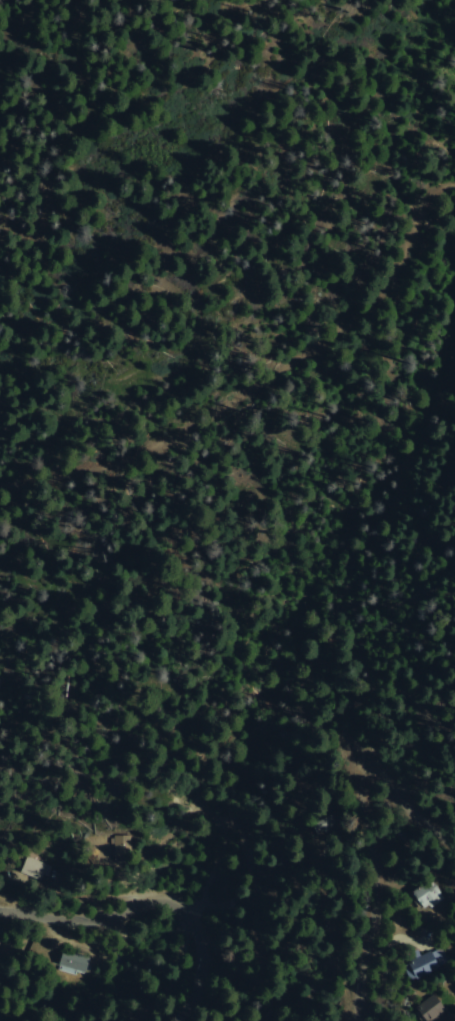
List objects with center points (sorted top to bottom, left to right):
road: (188, 864)
building: (38, 871)
building: (428, 895)
building: (0, 945)
building: (76, 962)
building: (427, 964)
building: (433, 1008)

